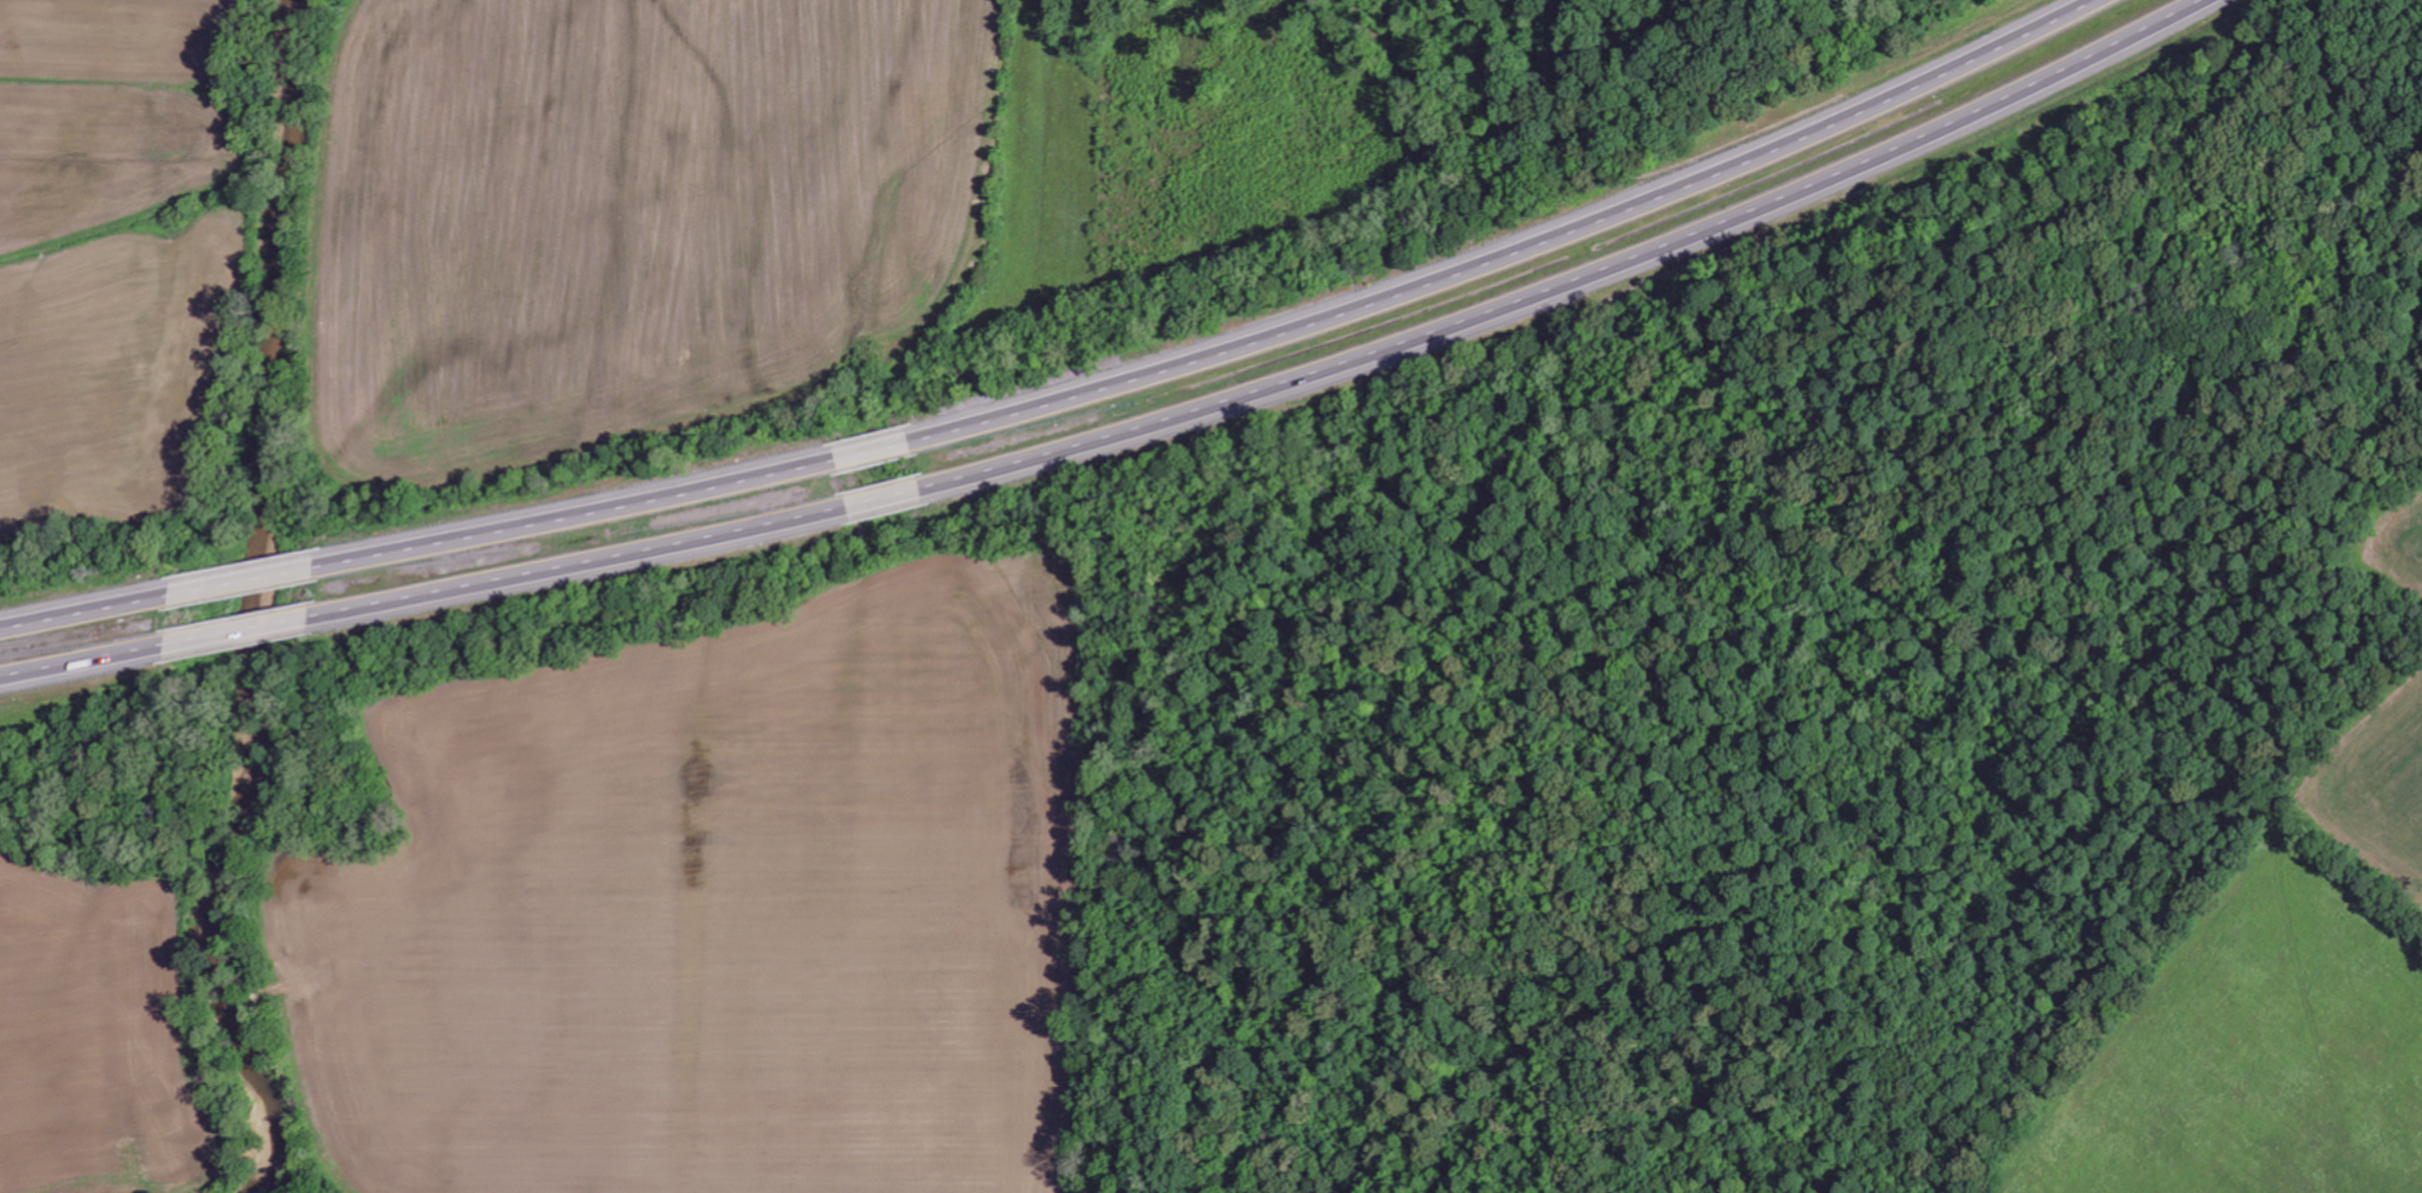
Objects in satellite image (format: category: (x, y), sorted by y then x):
road: (1504, 248)
road: (1574, 282)
road: (870, 444)
road: (884, 498)
road: (573, 509)
road: (579, 565)
road: (241, 575)
road: (84, 606)
road: (239, 632)
road: (83, 662)

